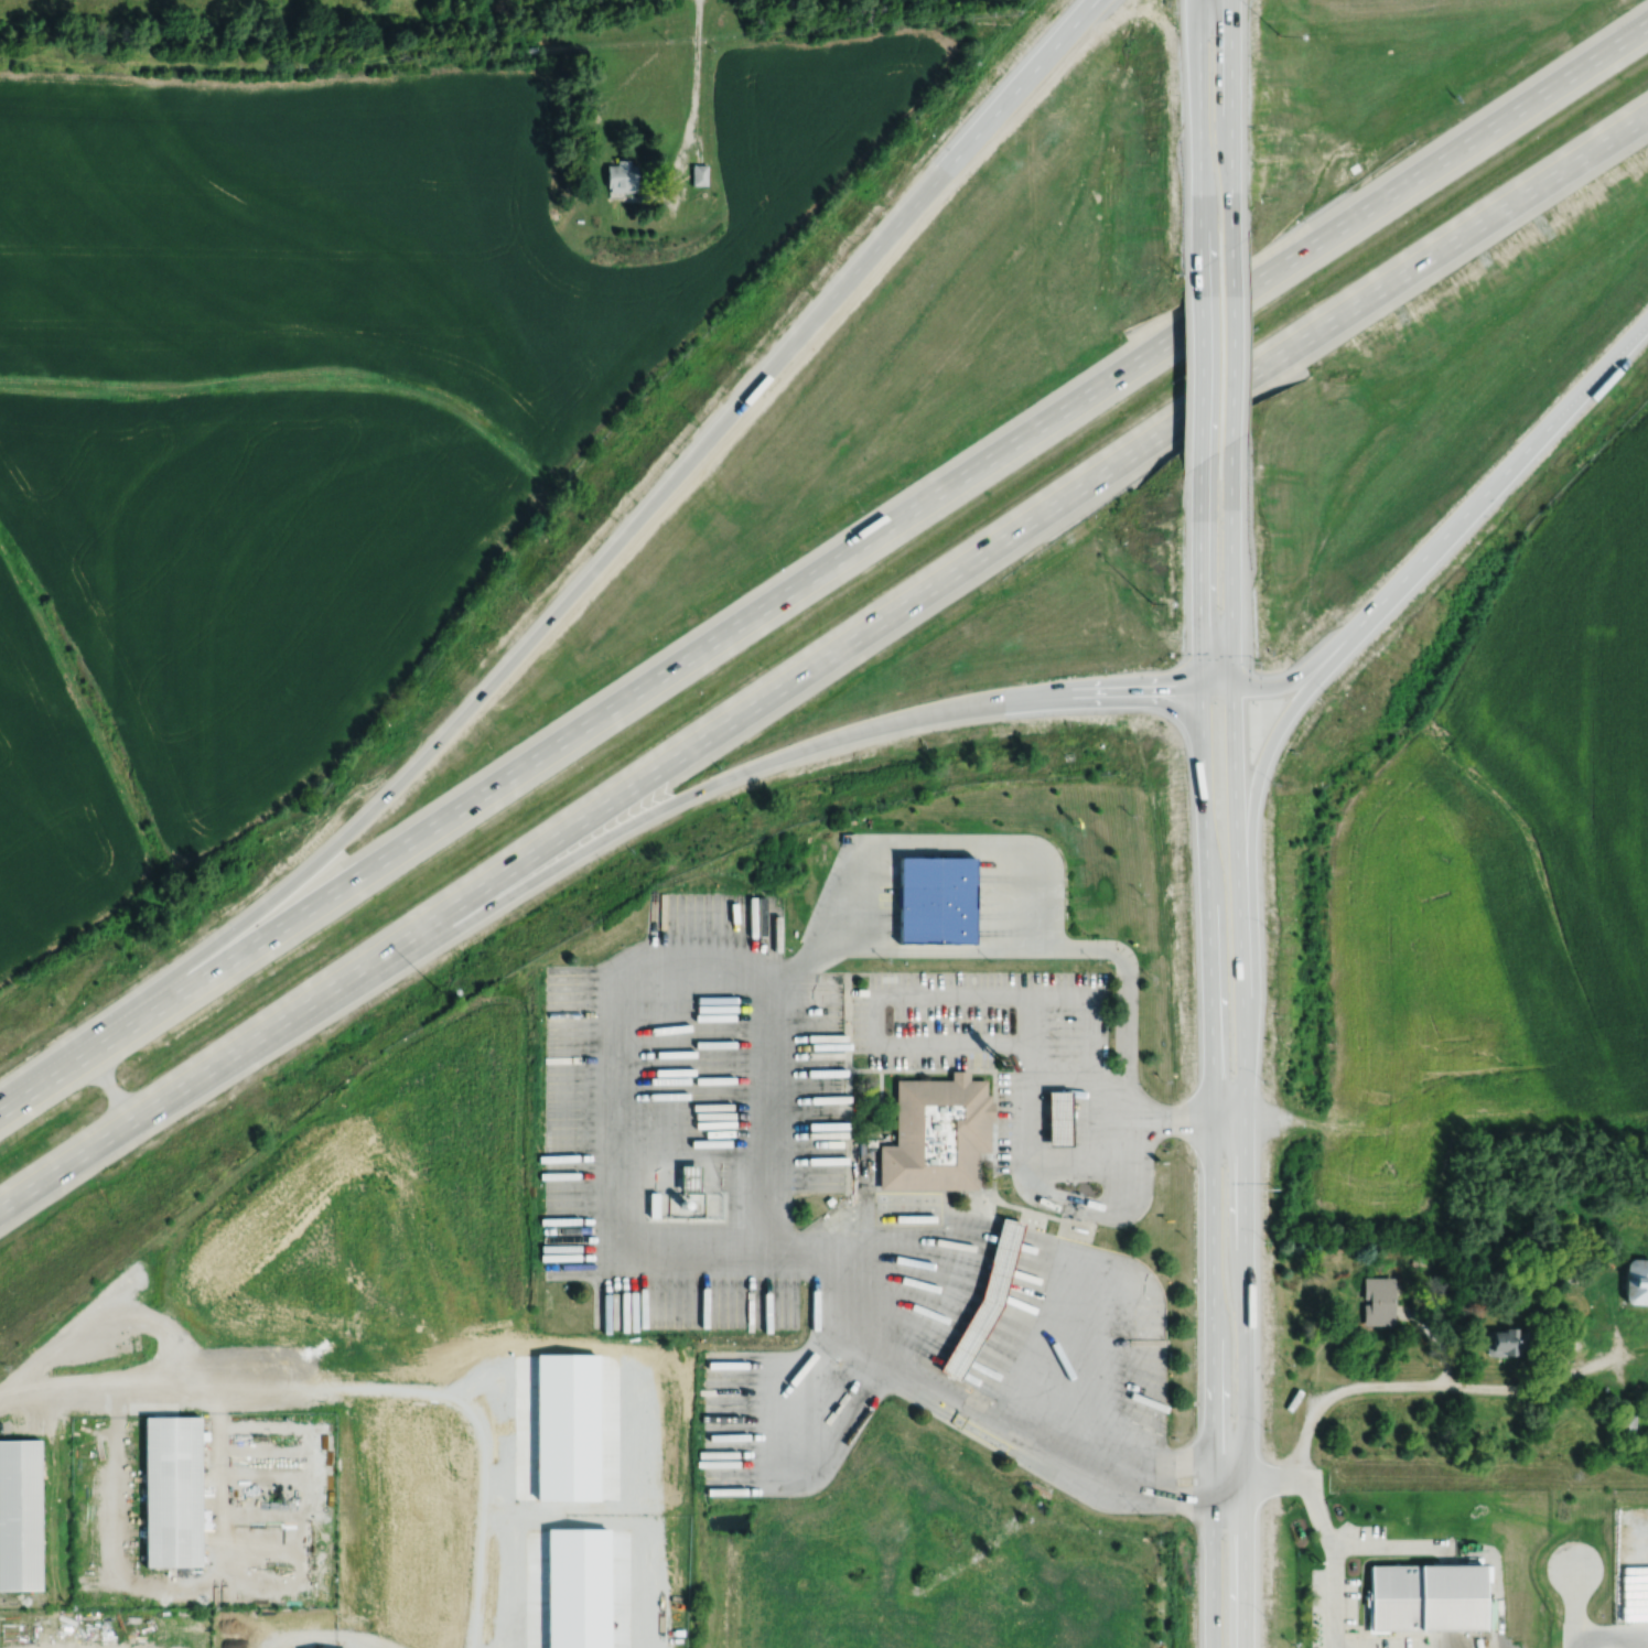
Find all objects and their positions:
street lamp: (1278, 30)
road: (691, 114)
road: (1230, 119)
road: (1199, 129)
road: (951, 163)
building: (700, 173)
building: (622, 174)
road: (1229, 360)
road: (1608, 360)
road: (772, 368)
road: (1200, 370)
road: (1451, 528)
road: (822, 568)
road: (1230, 582)
road: (1200, 583)
street lamp: (1161, 612)
road: (823, 660)
traffic signals: (1200, 683)
traffic signals: (1231, 683)
road: (1271, 683)
road: (1031, 691)
road: (1140, 697)
road: (395, 788)
road: (1252, 797)
road: (950, 841)
building: (937, 898)
road: (489, 904)
street lamp: (430, 982)
road: (904, 992)
parking lot: (949, 1017)
road: (1025, 1017)
parking lot: (1088, 1030)
road: (1057, 1044)
road: (775, 1070)
road: (111, 1087)
road: (617, 1100)
building: (1058, 1118)
road: (1088, 1119)
road: (1109, 1120)
road: (1172, 1120)
road: (1246, 1120)
building: (936, 1134)
parking lot: (775, 1135)
road: (1080, 1162)
road: (1213, 1165)
road: (1245, 1165)
road: (1028, 1174)
road: (905, 1265)
building: (1637, 1281)
building: (985, 1296)
building: (1379, 1301)
road: (100, 1314)
building: (1507, 1342)
road: (1080, 1350)
road: (357, 1386)
road: (1424, 1387)
road: (803, 1414)
building: (1625, 1428)
road: (1173, 1469)
road: (1229, 1479)
building: (1036, 1489)
road: (1173, 1489)
building: (172, 1491)
building: (20, 1514)
road: (1332, 1547)
building: (1426, 1597)
road: (1574, 1606)
road: (1612, 1634)

